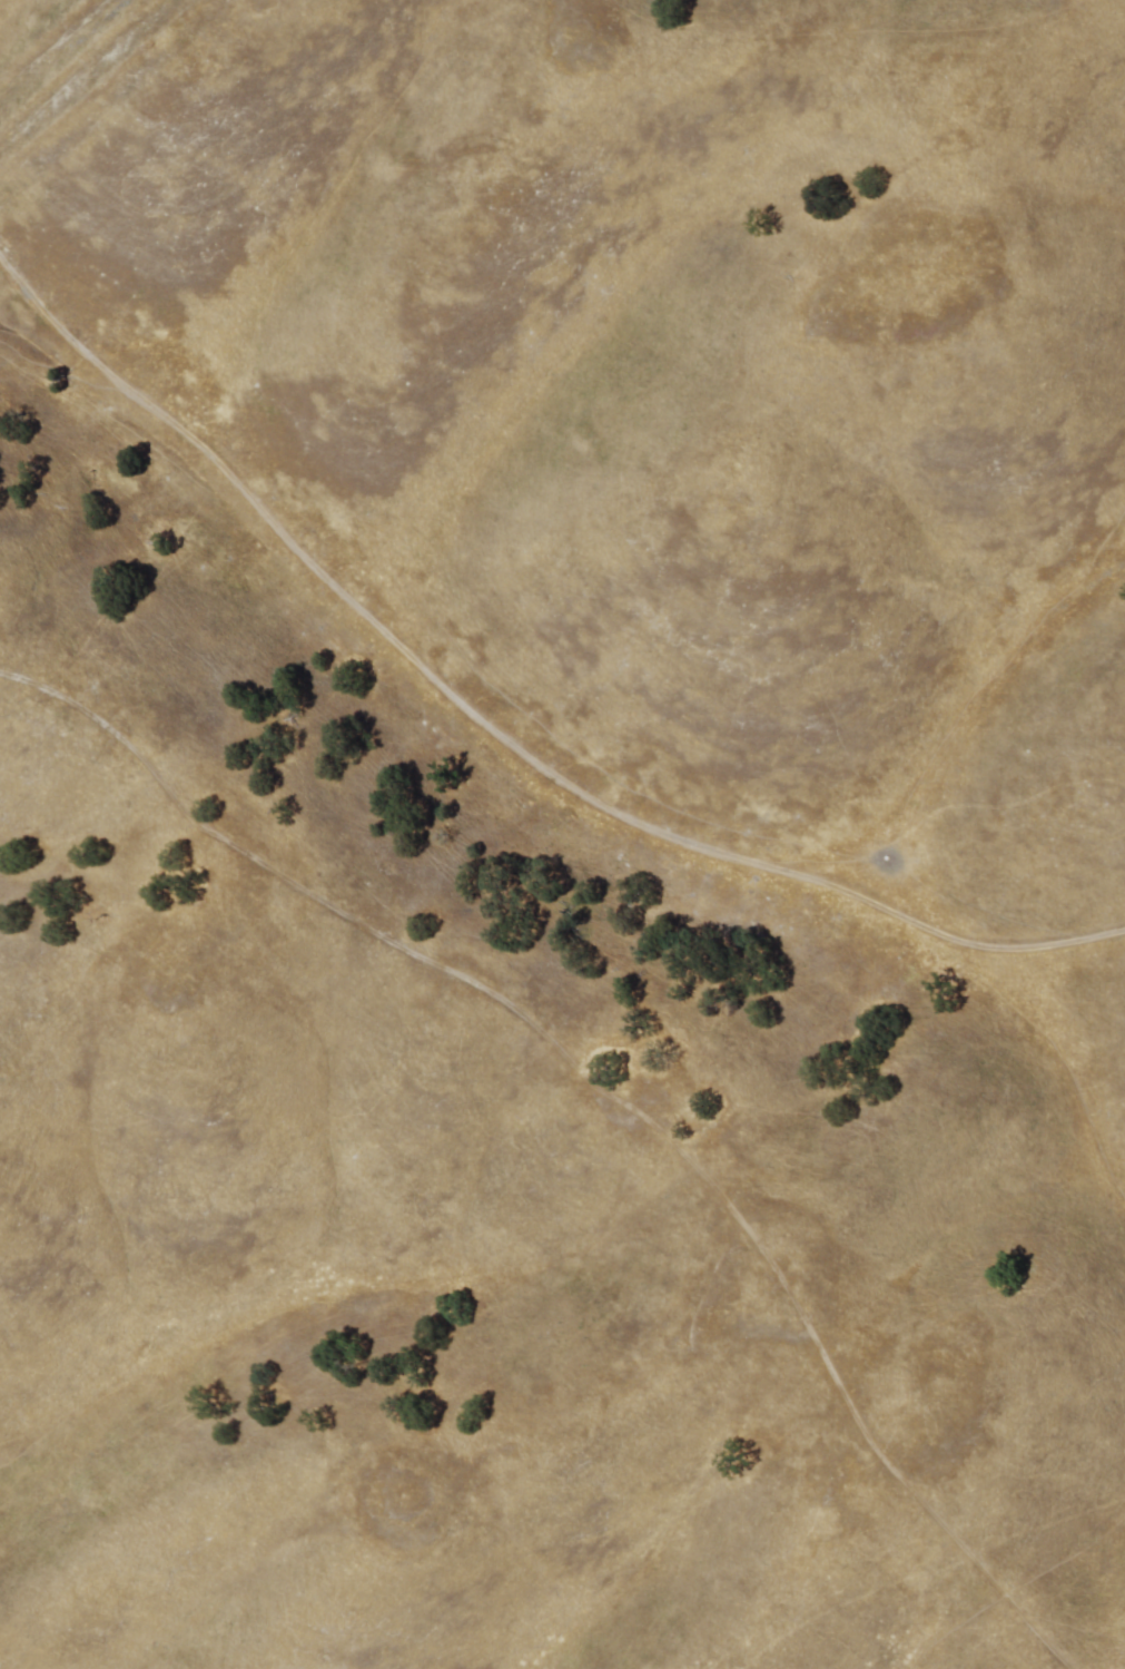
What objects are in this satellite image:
road: (491, 728)
road: (618, 1100)

